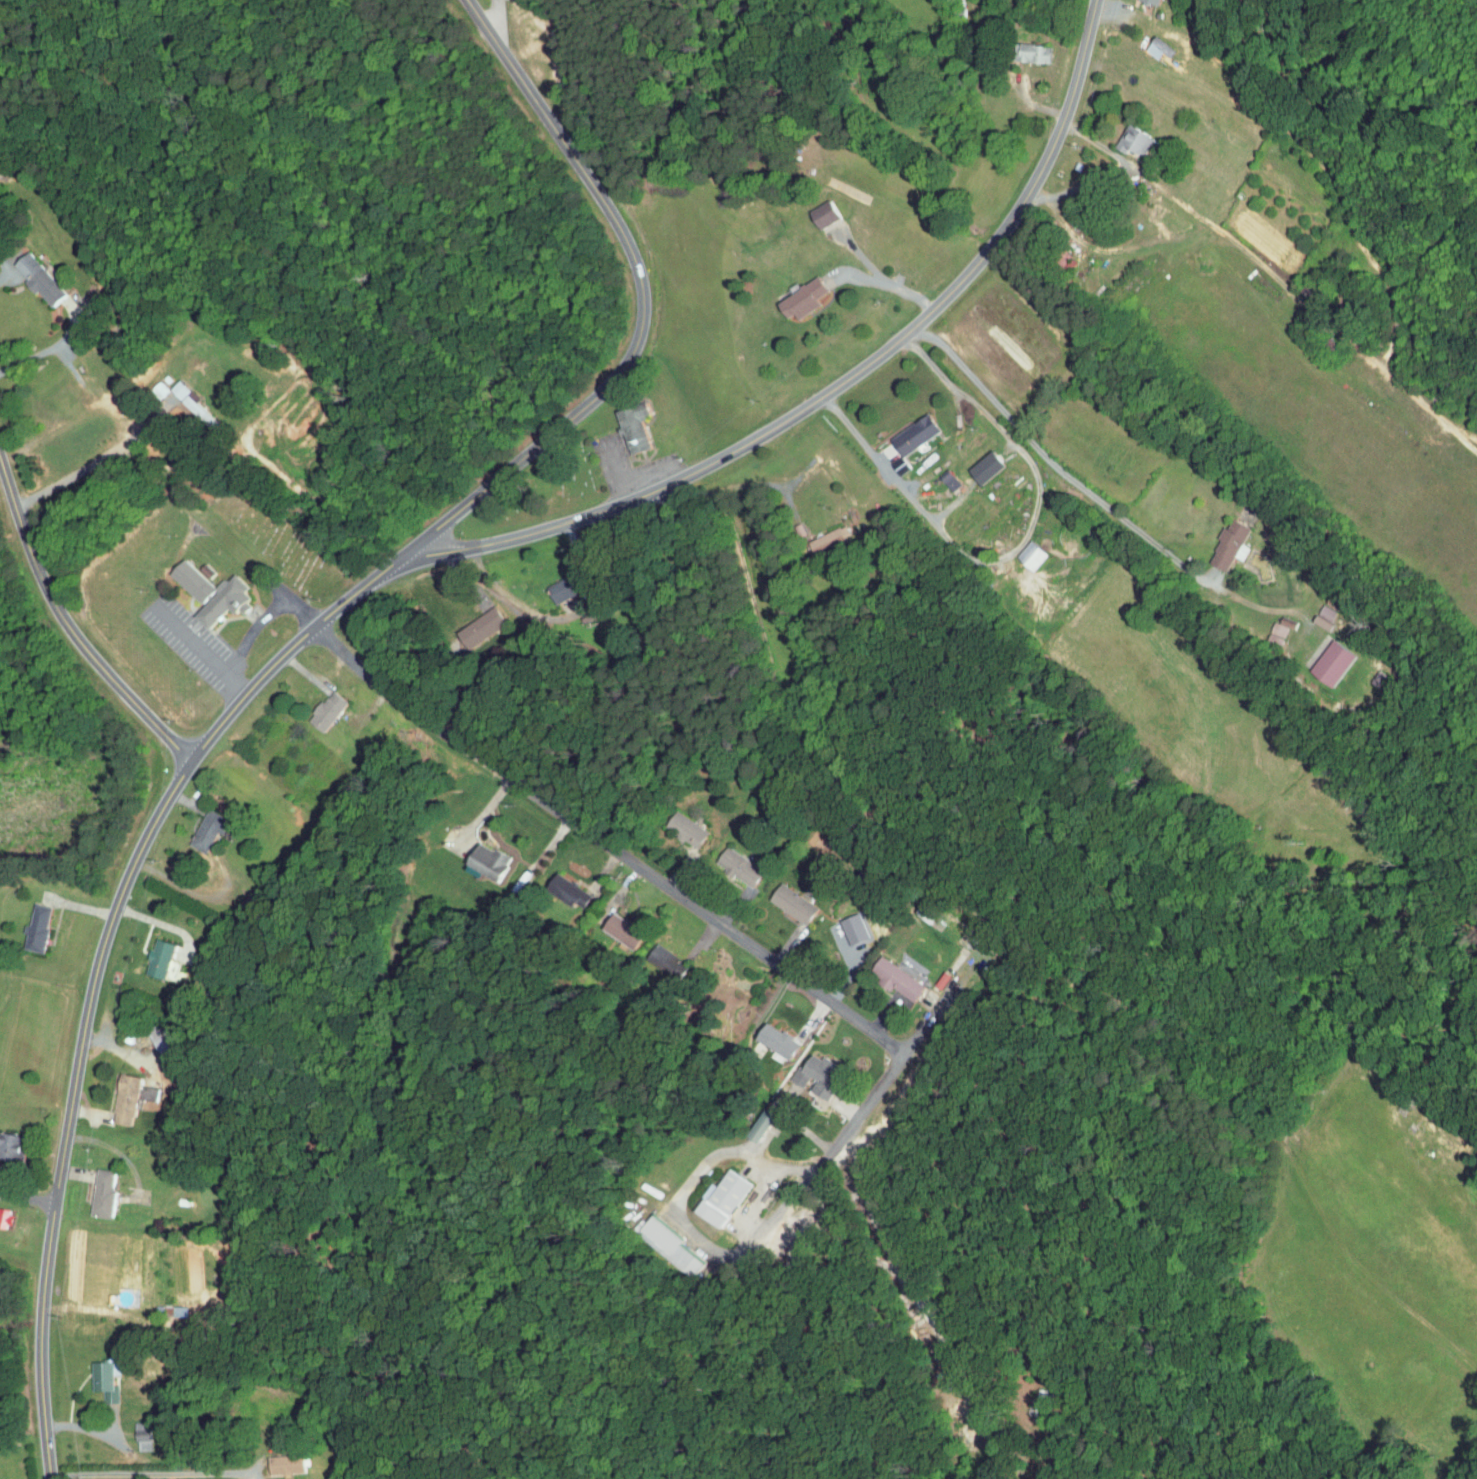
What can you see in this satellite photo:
road: (496, 16)
building: (1144, 41)
building: (1016, 47)
building: (1120, 137)
road: (1160, 186)
building: (809, 209)
road: (5, 273)
building: (26, 274)
road: (888, 283)
building: (788, 293)
road: (647, 303)
road: (48, 348)
building: (145, 384)
road: (843, 384)
building: (178, 398)
building: (618, 423)
building: (900, 429)
road: (1052, 461)
building: (971, 462)
road: (91, 463)
road: (616, 476)
building: (938, 476)
road: (731, 487)
building: (814, 534)
building: (1215, 540)
road: (1019, 547)
building: (1017, 550)
building: (178, 574)
building: (210, 596)
building: (1313, 607)
building: (1307, 617)
road: (567, 618)
road: (263, 620)
building: (466, 622)
building: (1263, 628)
road: (68, 633)
road: (202, 650)
building: (1317, 658)
building: (313, 706)
building: (672, 823)
building: (193, 826)
road: (606, 844)
building: (472, 855)
building: (726, 860)
building: (554, 885)
building: (777, 896)
building: (23, 922)
building: (608, 925)
building: (146, 953)
building: (652, 955)
road: (100, 959)
building: (881, 973)
building: (154, 1034)
building: (763, 1035)
road: (896, 1068)
building: (804, 1071)
building: (120, 1092)
building: (744, 1122)
building: (8, 1142)
road: (784, 1167)
building: (97, 1187)
building: (707, 1193)
road: (682, 1194)
road: (27, 1195)
road: (750, 1204)
building: (1, 1210)
building: (659, 1240)
building: (98, 1373)
road: (88, 1429)
building: (135, 1430)
building: (278, 1458)
road: (150, 1474)

